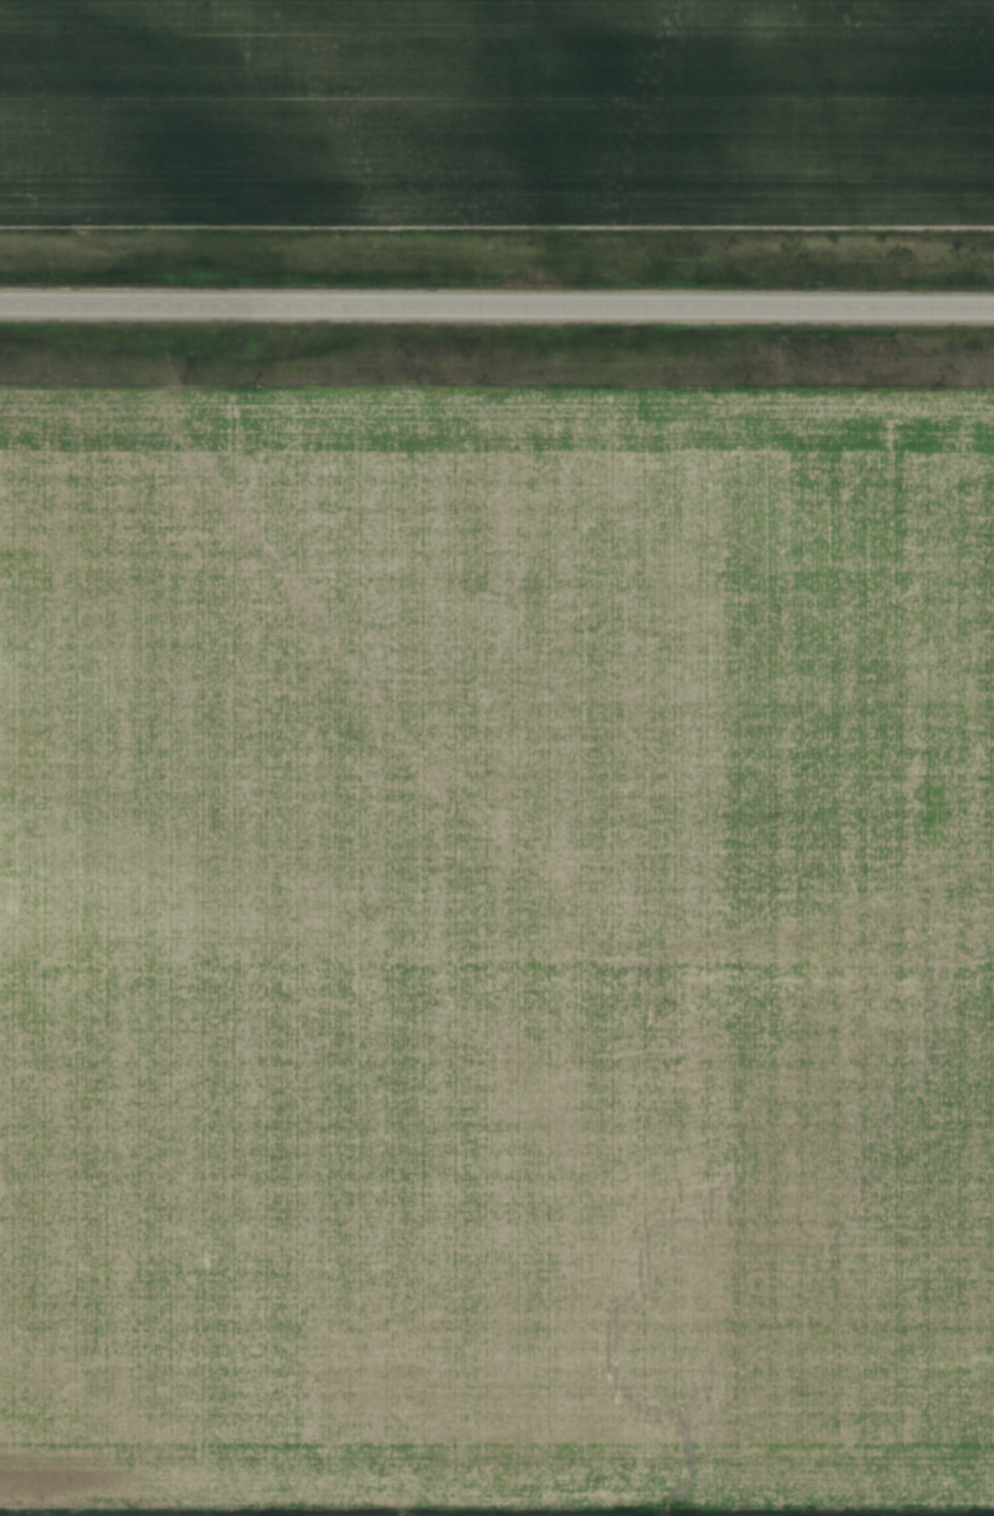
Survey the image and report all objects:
road: (497, 322)

